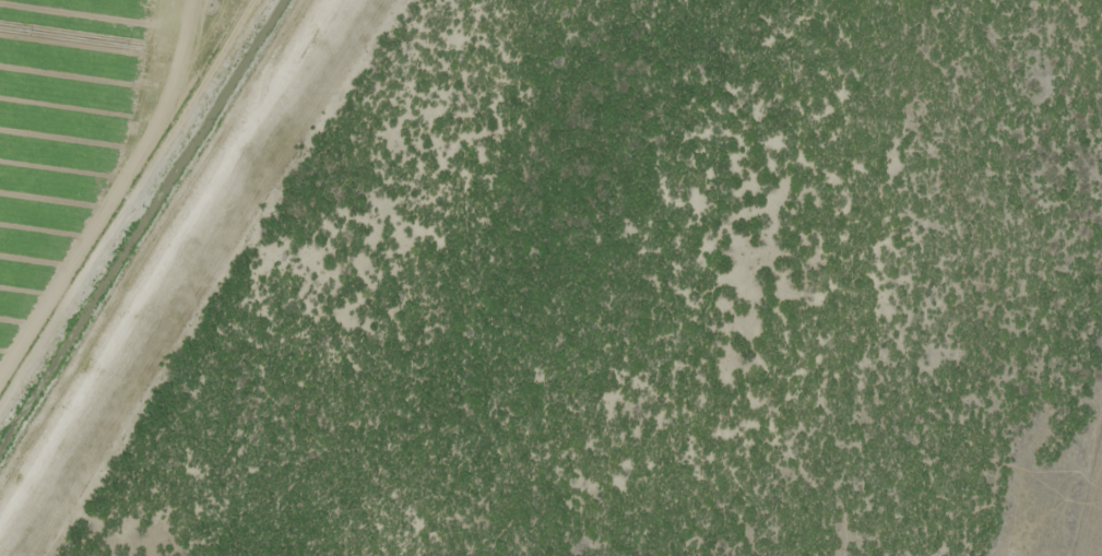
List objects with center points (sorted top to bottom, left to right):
road: (110, 189)

